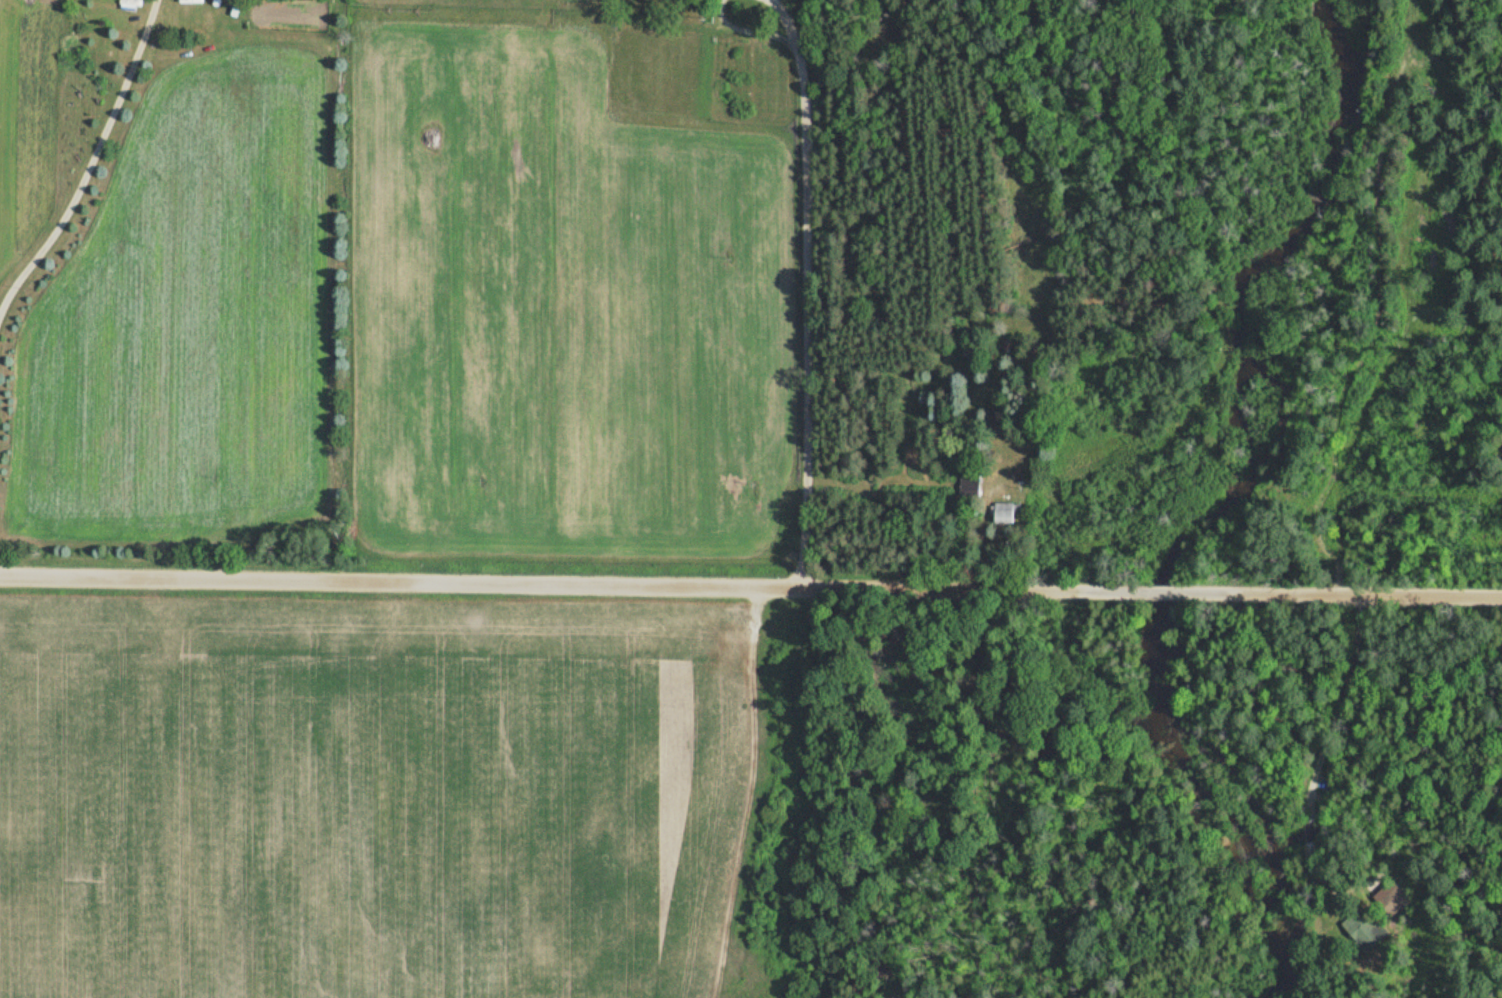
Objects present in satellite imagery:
river: (1239, 288)
road: (822, 297)
building: (1005, 513)
road: (751, 587)
river: (1158, 593)
road: (1337, 706)
river: (1220, 803)

